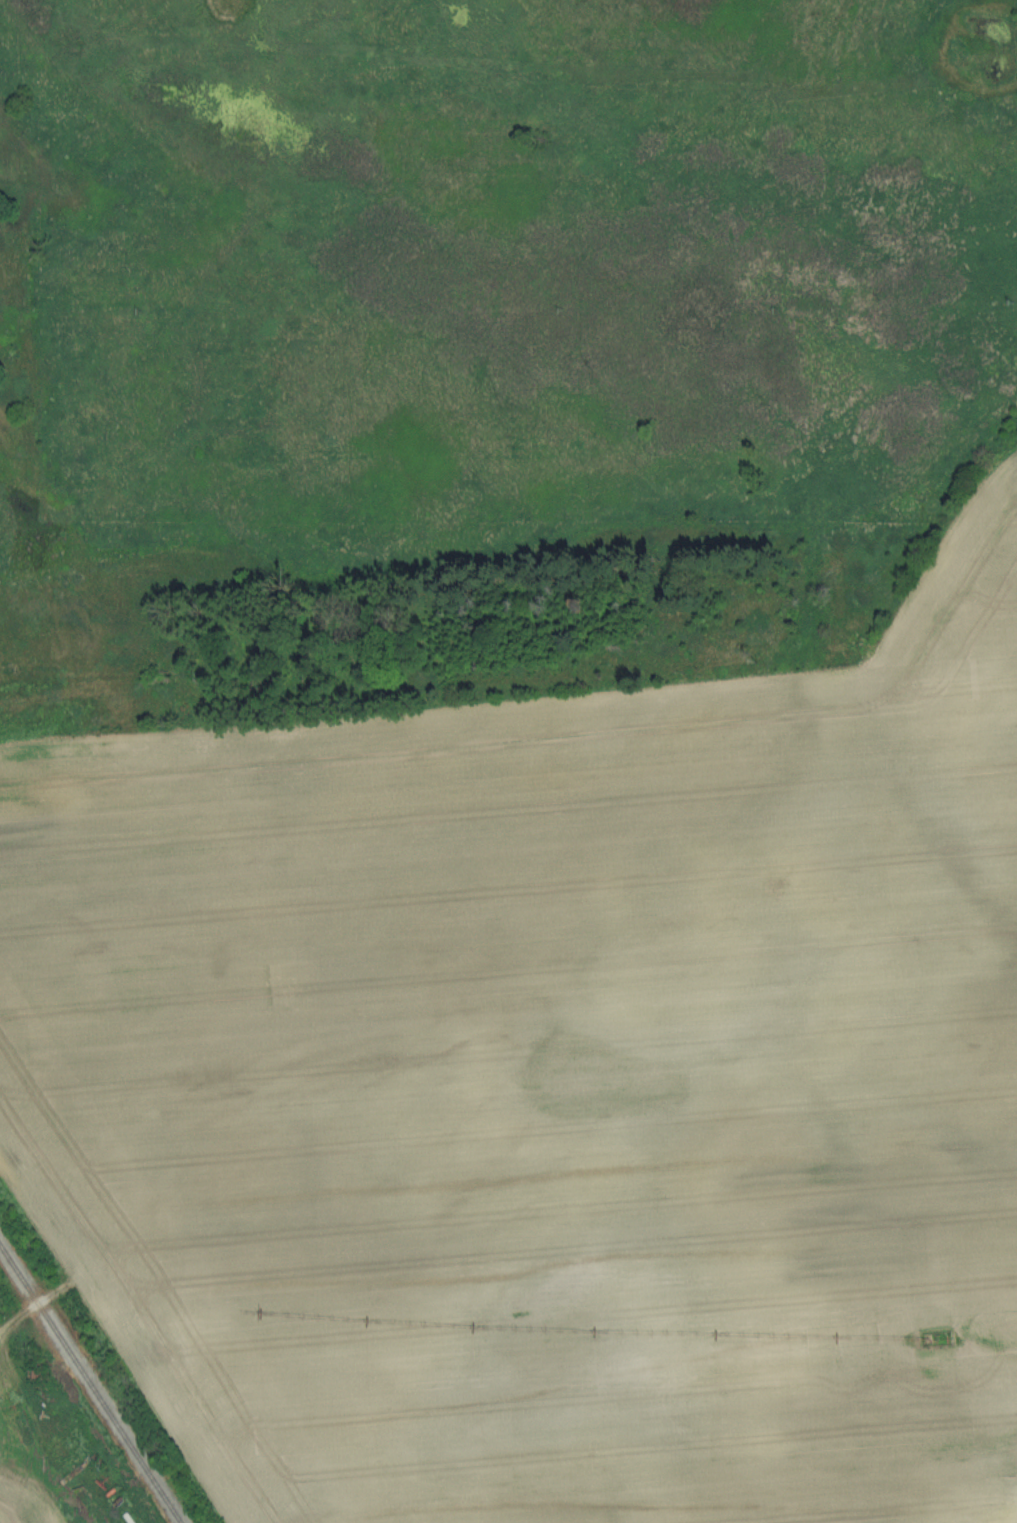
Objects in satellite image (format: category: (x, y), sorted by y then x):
railway: (88, 1387)

